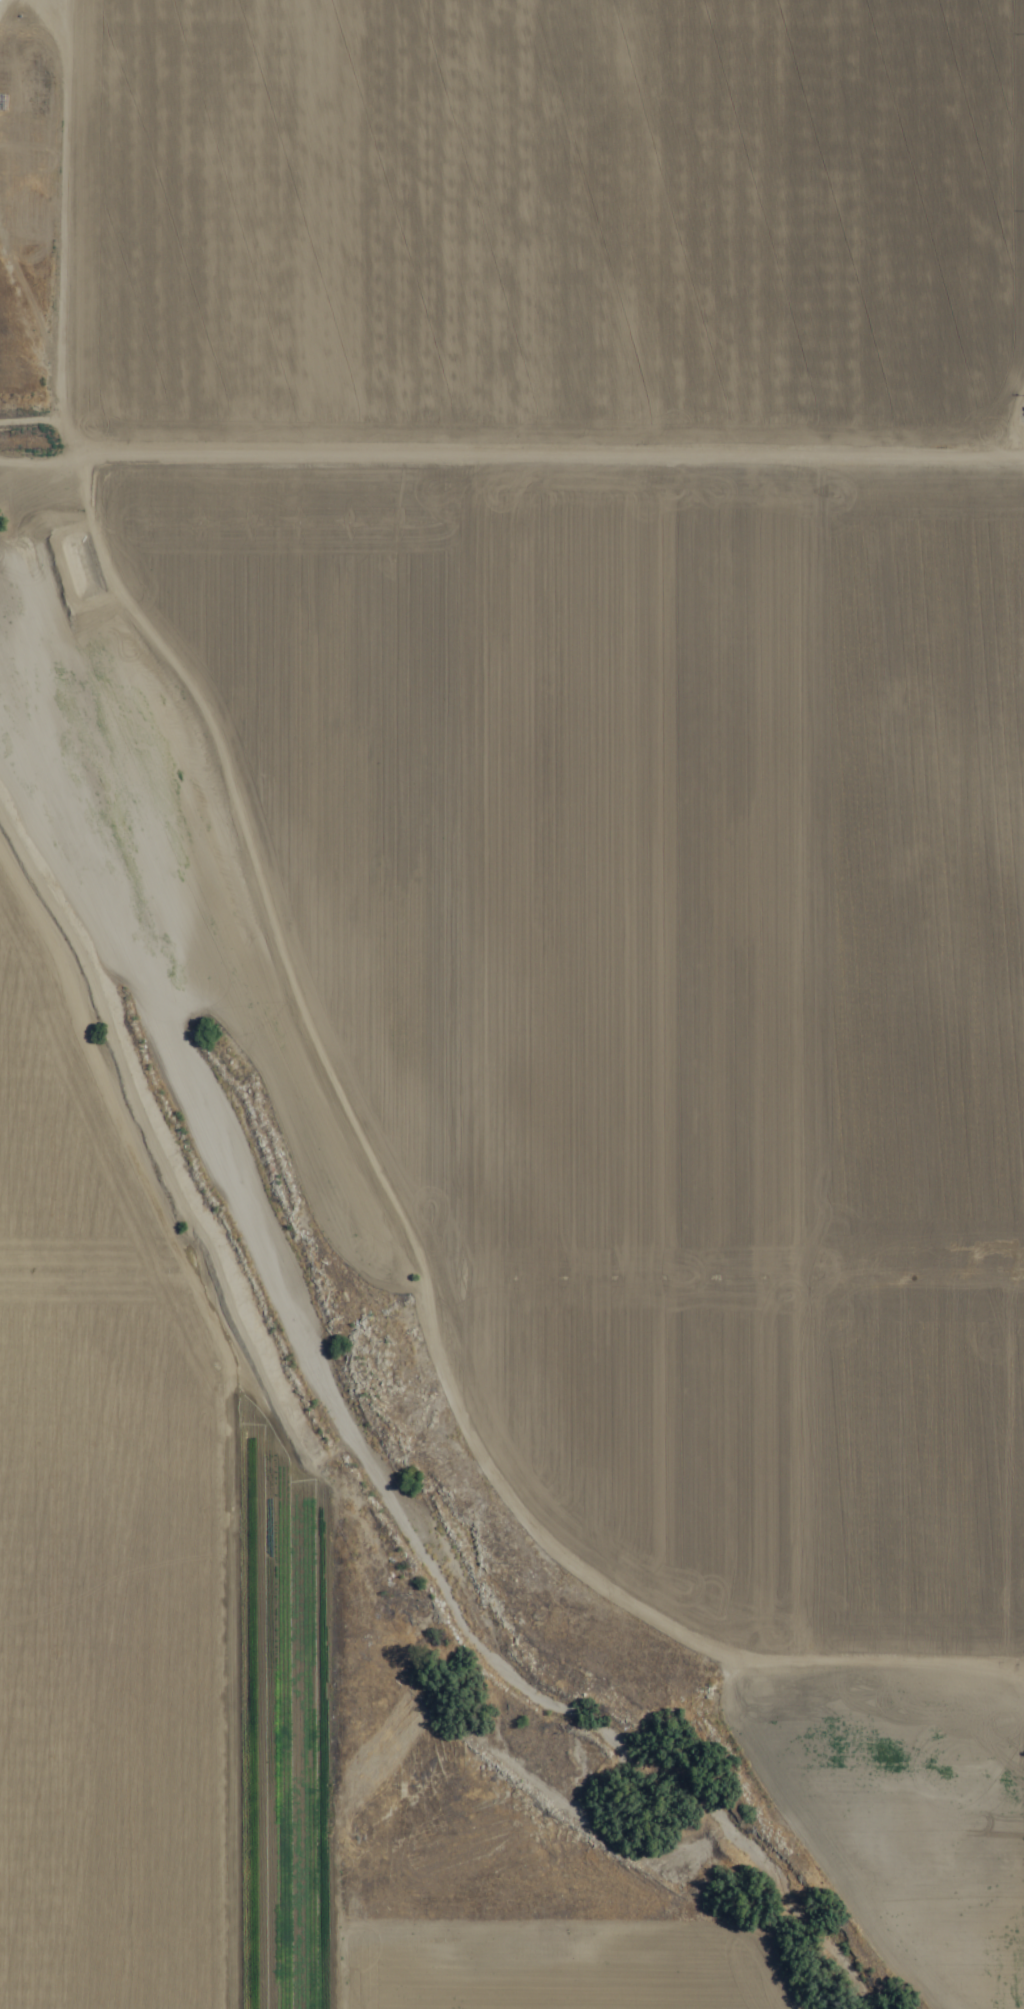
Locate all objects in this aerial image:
wastewater plant: (31, 83)
road: (1022, 169)
road: (40, 224)
road: (511, 443)
crop: (593, 705)
road: (320, 1617)
crop: (210, 1646)

